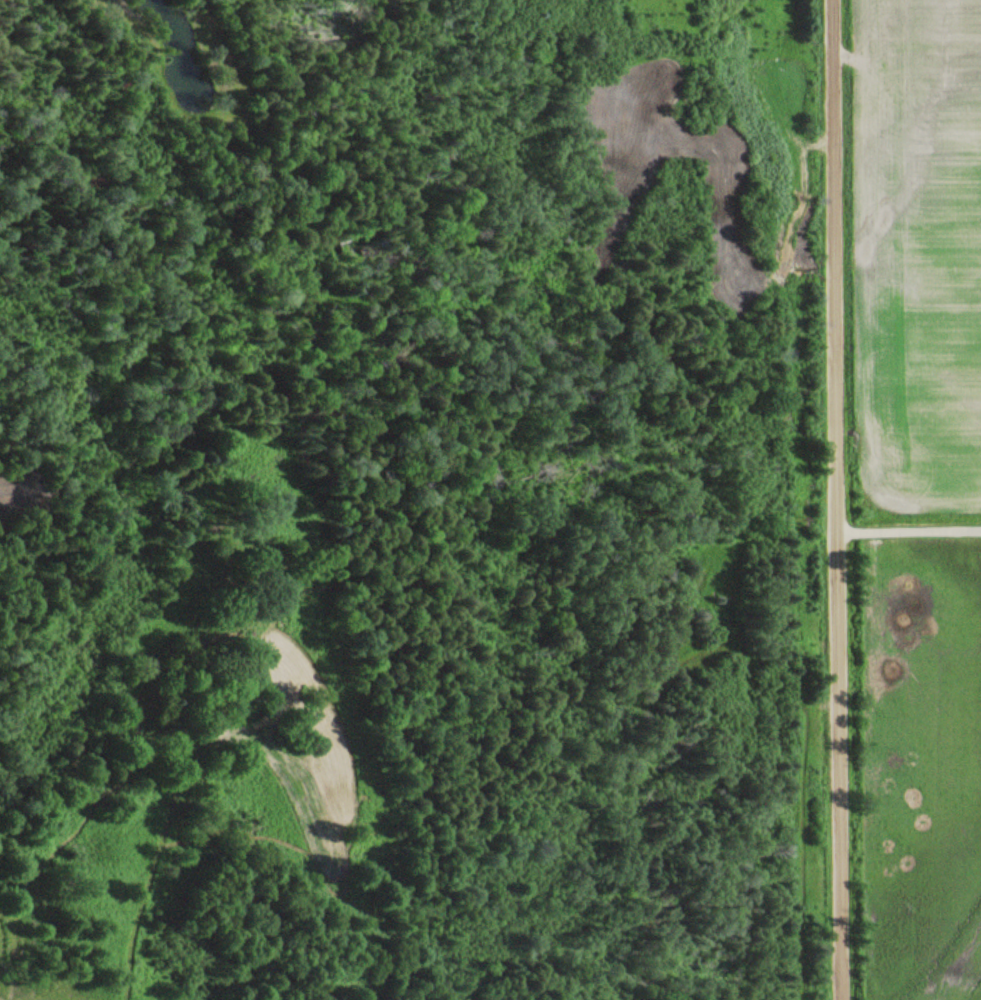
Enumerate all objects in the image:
road: (839, 405)
road: (845, 905)

